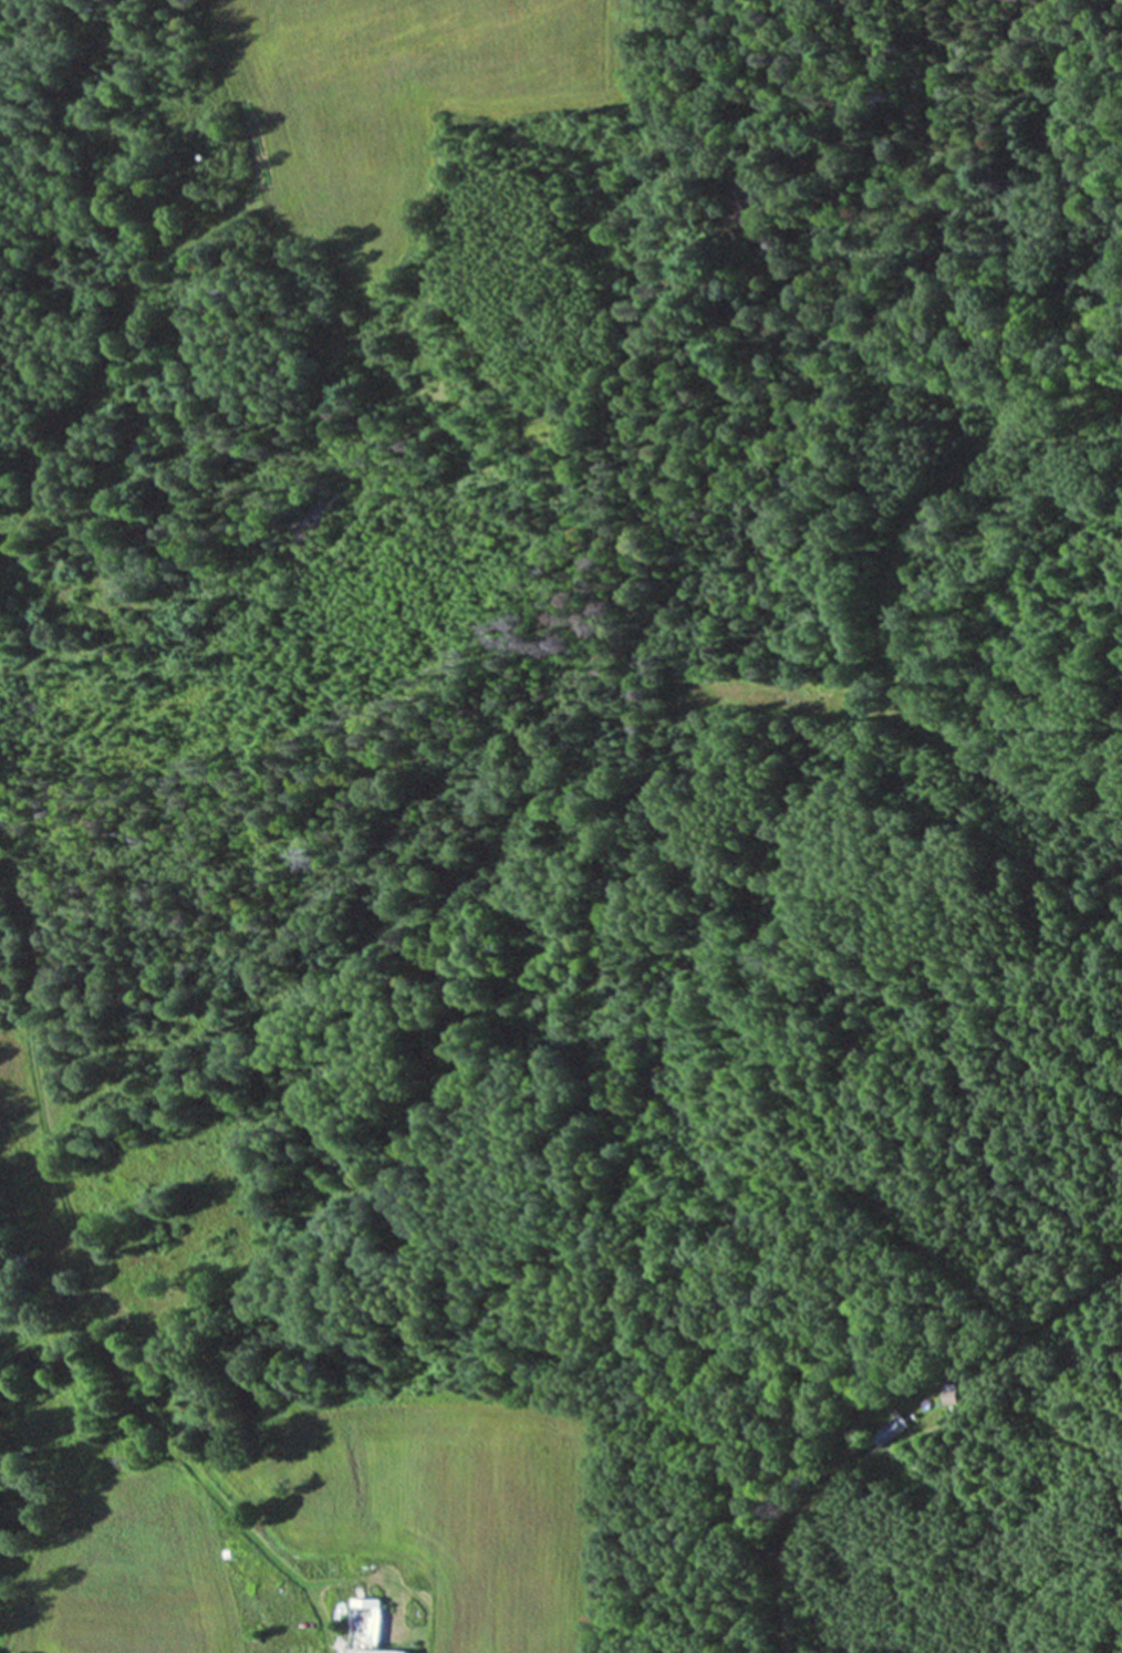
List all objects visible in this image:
building: (947, 1395)
building: (889, 1431)
road: (780, 1537)
building: (365, 1626)

